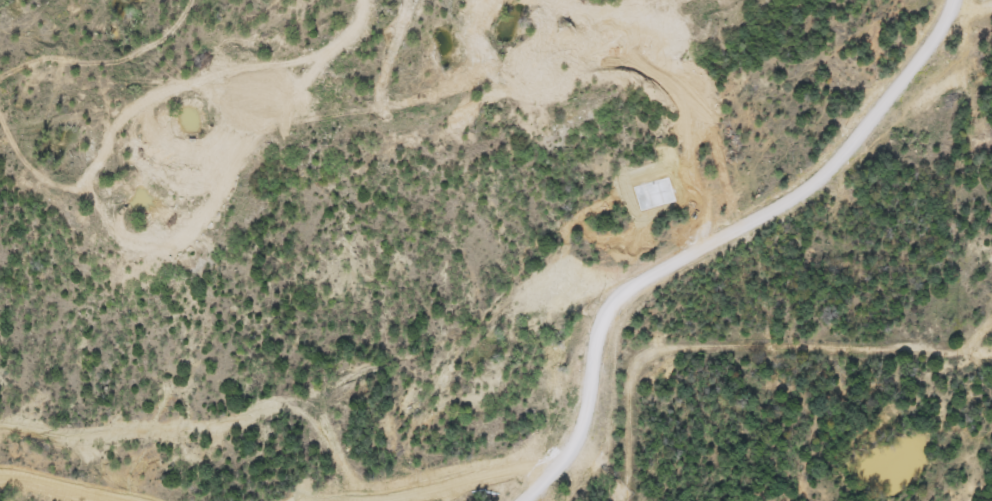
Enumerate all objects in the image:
road: (718, 241)
road: (740, 347)

